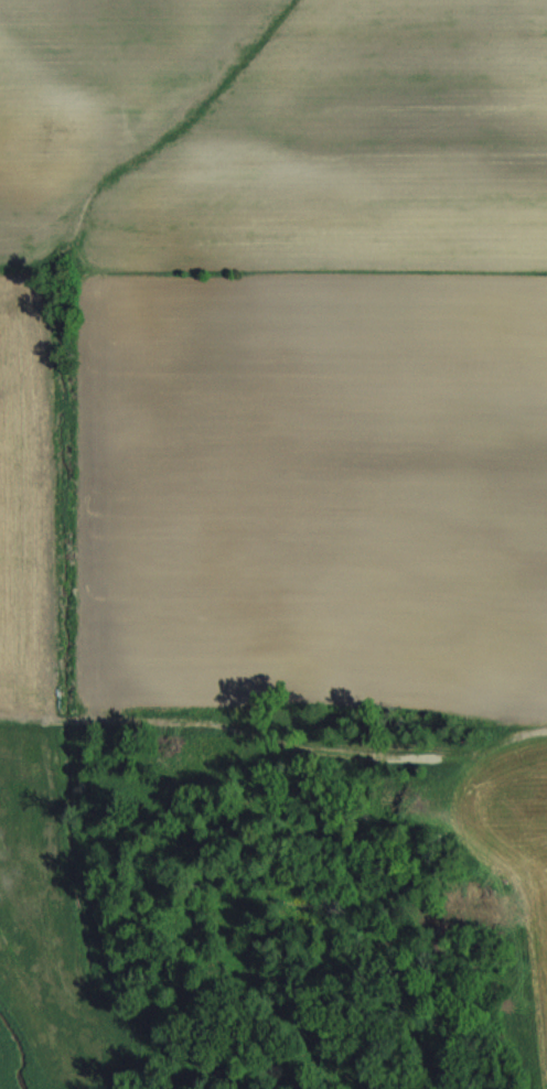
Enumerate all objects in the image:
road: (541, 754)

